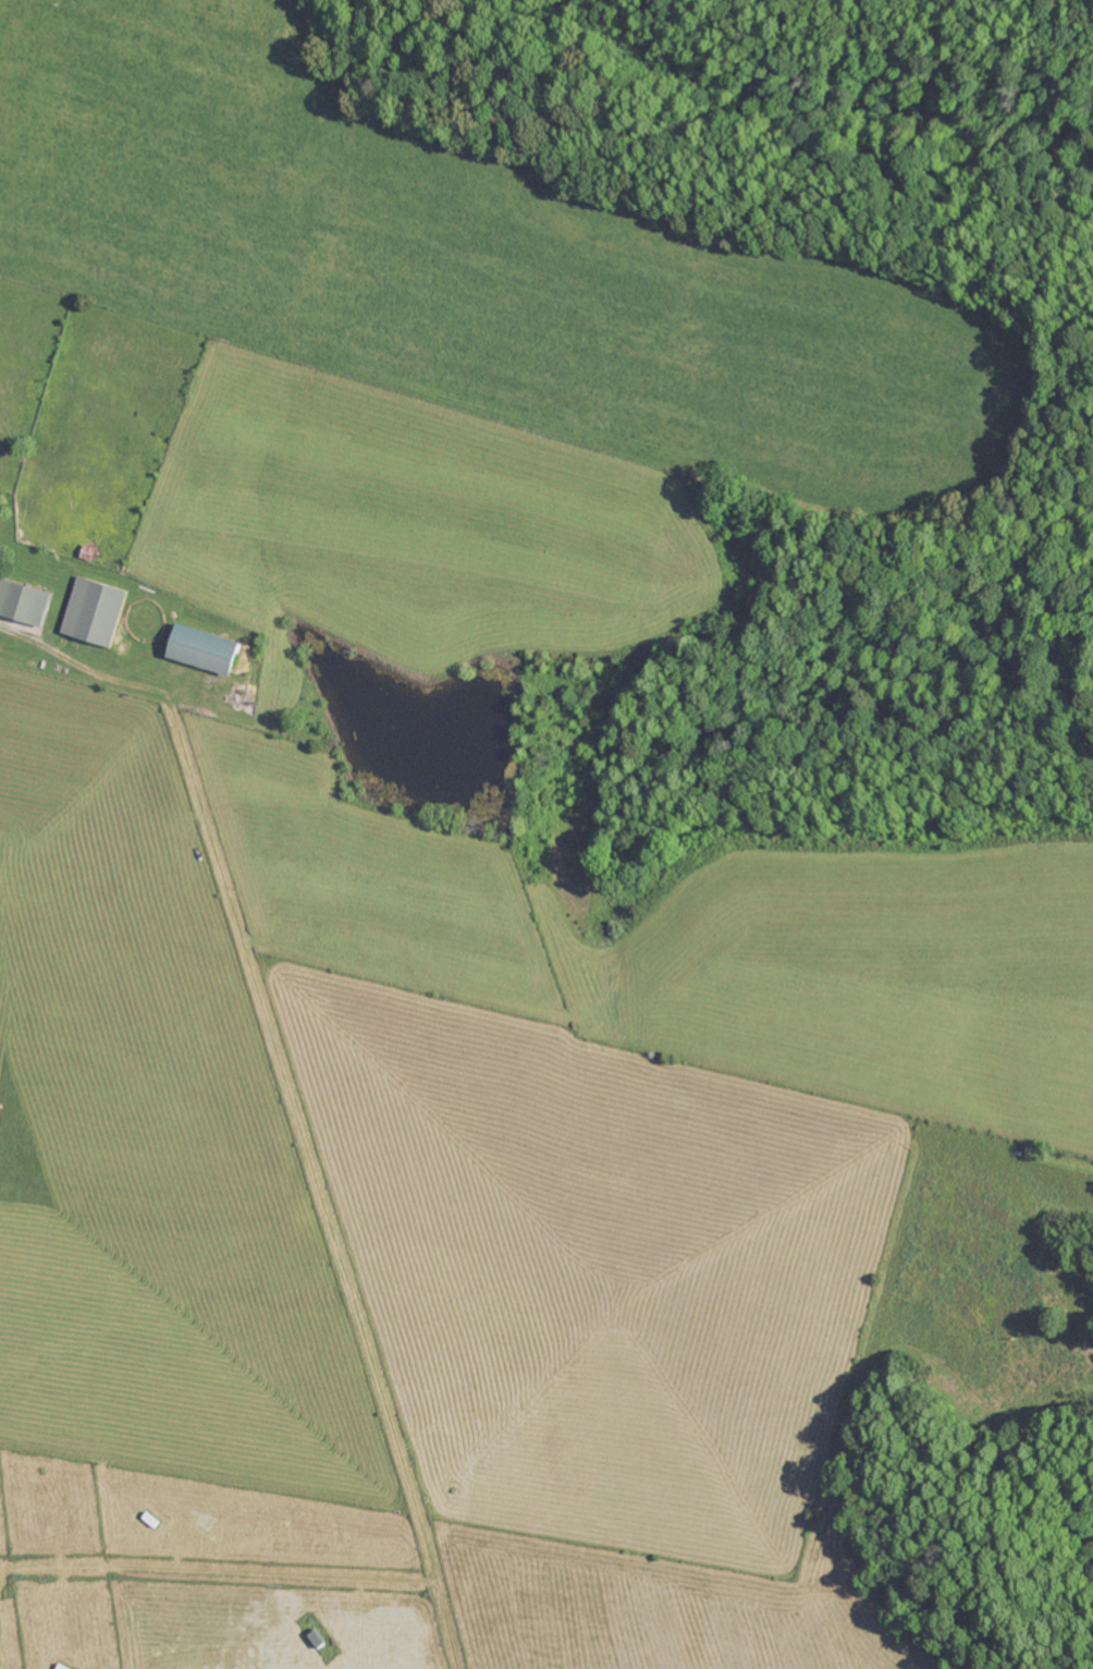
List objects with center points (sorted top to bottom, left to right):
building: (25, 601)
building: (97, 611)
building: (209, 649)

